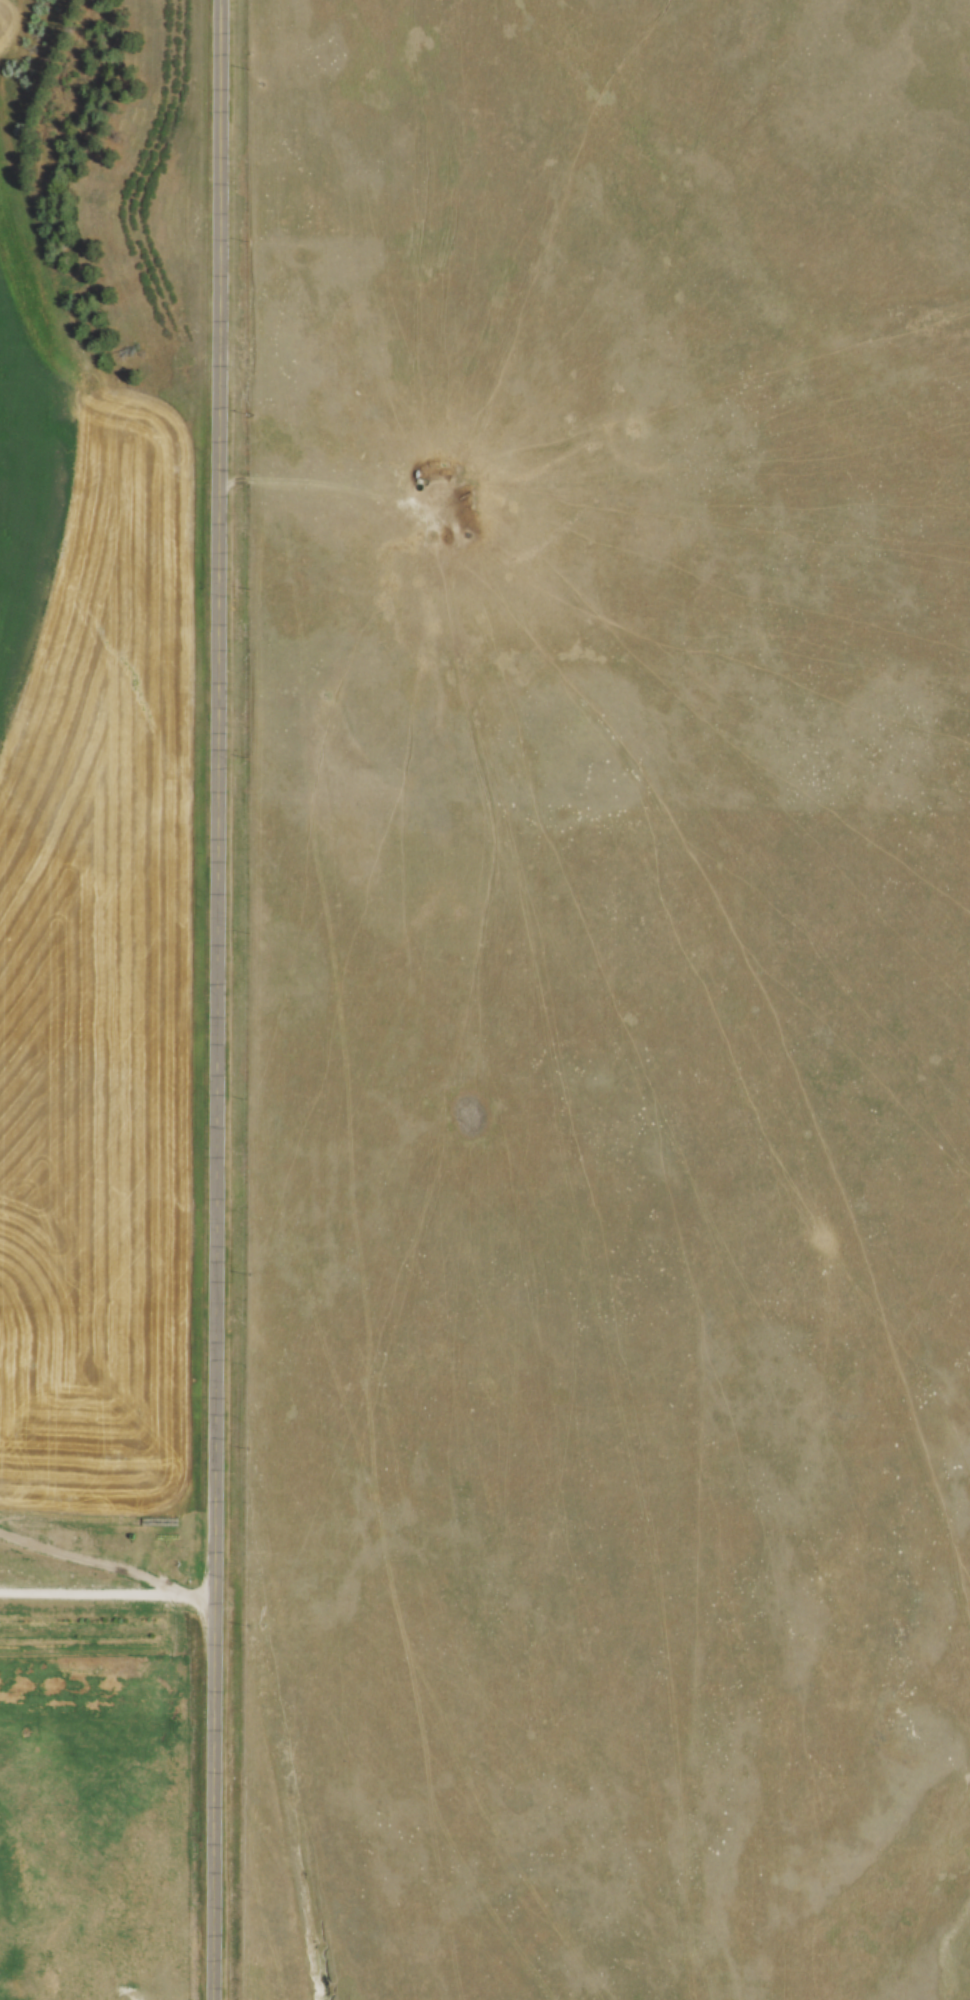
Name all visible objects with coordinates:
road: (217, 1000)
road: (108, 1593)

